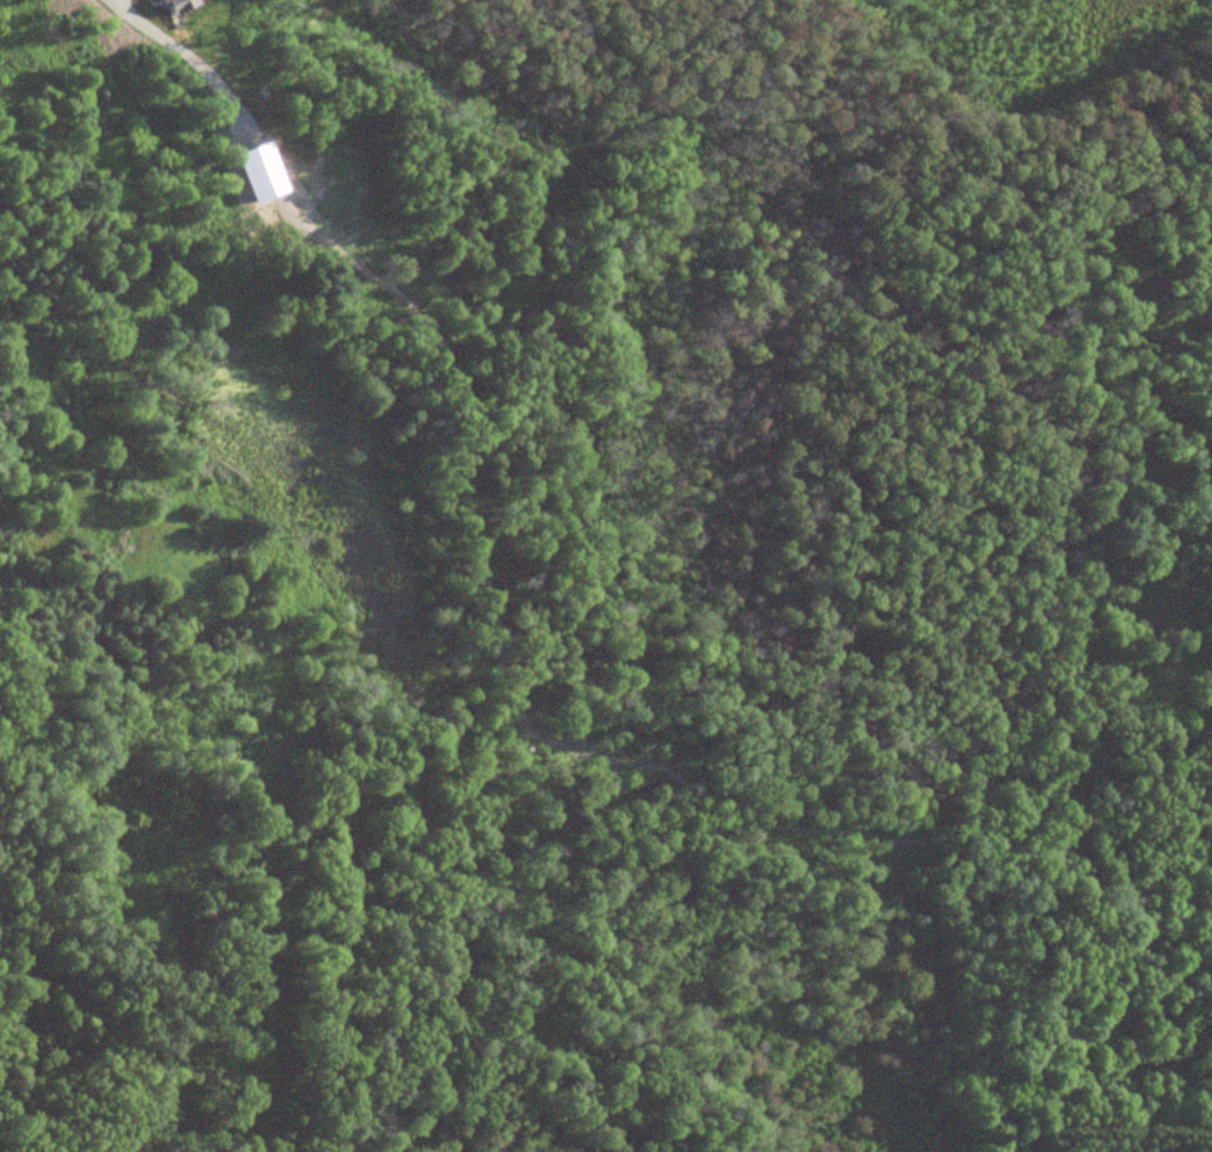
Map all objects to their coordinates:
road: (103, 4)

